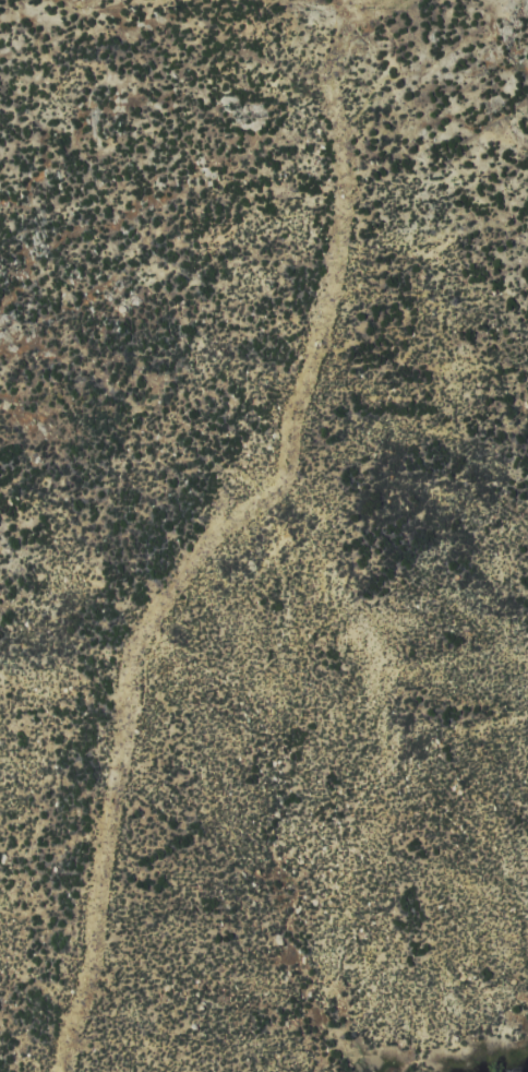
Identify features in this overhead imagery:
road: (277, 468)

